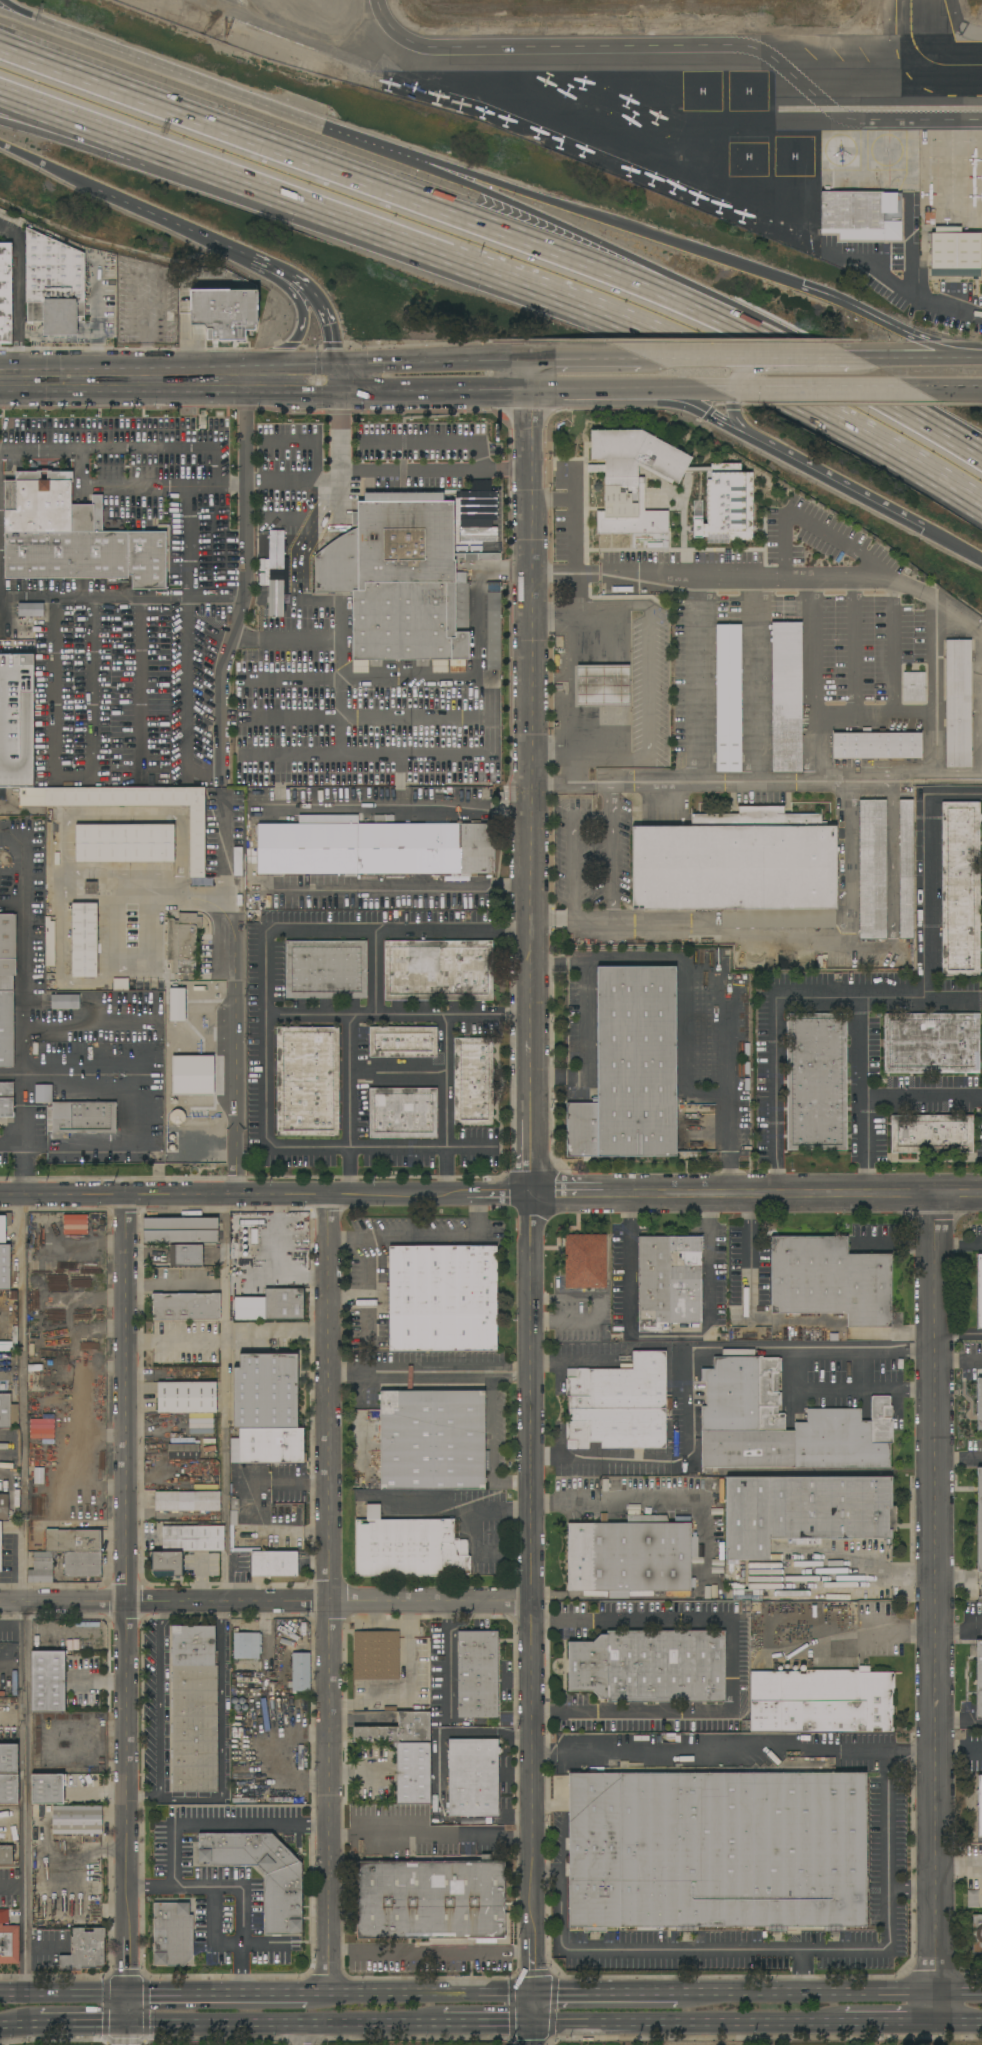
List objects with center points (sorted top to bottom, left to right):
road: (16, 11)
road: (15, 17)
airport taxiway: (910, 32)
road: (680, 48)
airport taxiway: (946, 64)
helipad: (701, 91)
helipad: (748, 91)
road: (228, 95)
road: (65, 112)
airport: (693, 114)
road: (65, 128)
road: (142, 141)
helipad: (839, 149)
helipad: (886, 151)
road: (49, 166)
road: (326, 168)
road: (452, 172)
road: (453, 178)
road: (302, 199)
building: (861, 215)
building: (929, 218)
road: (177, 220)
road: (639, 230)
road: (565, 241)
building: (954, 252)
road: (265, 259)
building: (53, 284)
traffic signals: (801, 285)
road: (289, 287)
building: (5, 293)
road: (932, 295)
parking lot: (99, 297)
building: (218, 302)
parking lot: (142, 303)
road: (324, 303)
road: (20, 305)
road: (854, 307)
road: (194, 325)
road: (95, 328)
road: (148, 333)
road: (295, 340)
road: (932, 345)
road: (970, 357)
road: (747, 358)
road: (903, 358)
road: (588, 359)
road: (432, 362)
road: (723, 362)
road: (304, 365)
traffic signals: (336, 365)
road: (136, 368)
road: (820, 370)
road: (739, 377)
road: (338, 379)
road: (948, 390)
road: (818, 391)
road: (434, 392)
road: (598, 392)
road: (694, 392)
traffic signals: (340, 393)
road: (170, 394)
road: (705, 412)
road: (735, 417)
road: (289, 440)
road: (424, 445)
road: (105, 450)
road: (340, 457)
road: (316, 461)
road: (211, 470)
road: (87, 471)
road: (387, 473)
building: (632, 479)
road: (833, 481)
road: (149, 491)
building: (725, 506)
road: (480, 508)
building: (97, 512)
road: (572, 517)
road: (281, 519)
traffic signals: (924, 529)
building: (73, 536)
road: (302, 540)
road: (191, 544)
road: (953, 544)
road: (282, 553)
road: (506, 573)
road: (551, 574)
building: (401, 578)
road: (246, 592)
road: (122, 600)
building: (30, 610)
road: (551, 616)
road: (958, 618)
road: (257, 620)
road: (342, 624)
road: (480, 626)
building: (493, 631)
building: (20, 636)
building: (23, 647)
road: (933, 662)
road: (812, 677)
road: (569, 679)
road: (694, 679)
road: (414, 680)
road: (293, 681)
building: (602, 685)
road: (141, 688)
building: (913, 688)
building: (786, 697)
building: (728, 698)
road: (341, 699)
road: (186, 701)
building: (957, 703)
road: (873, 717)
road: (366, 718)
road: (487, 719)
building: (16, 720)
building: (876, 745)
road: (551, 749)
road: (365, 758)
road: (954, 772)
road: (73, 779)
road: (552, 785)
road: (590, 785)
building: (32, 796)
road: (402, 808)
building: (197, 841)
building: (125, 843)
building: (374, 847)
road: (63, 850)
road: (607, 853)
building: (237, 862)
building: (741, 868)
building: (906, 868)
building: (872, 869)
road: (928, 870)
road: (82, 875)
building: (90, 888)
building: (960, 888)
road: (342, 890)
road: (158, 897)
road: (568, 921)
road: (148, 931)
road: (800, 933)
building: (84, 940)
building: (49, 942)
building: (182, 942)
building: (7, 952)
road: (556, 957)
road: (692, 968)
road: (21, 969)
building: (325, 969)
building: (438, 970)
road: (374, 972)
building: (120, 984)
road: (880, 999)
road: (232, 1000)
building: (64, 1002)
building: (176, 1004)
road: (263, 1015)
road: (396, 1015)
road: (582, 1019)
building: (7, 1030)
building: (402, 1042)
building: (931, 1043)
building: (630, 1068)
road: (398, 1071)
road: (10, 1075)
building: (192, 1075)
building: (307, 1081)
building: (473, 1081)
building: (816, 1081)
road: (557, 1082)
road: (725, 1086)
building: (42, 1093)
road: (775, 1096)
road: (921, 1096)
road: (861, 1097)
building: (6, 1100)
road: (446, 1104)
road: (349, 1105)
building: (403, 1113)
building: (81, 1118)
building: (931, 1134)
road: (19, 1144)
road: (24, 1153)
road: (491, 1194)
road: (530, 1202)
building: (74, 1225)
building: (180, 1230)
road: (422, 1237)
road: (958, 1246)
road: (897, 1247)
building: (4, 1254)
building: (186, 1256)
building: (585, 1261)
road: (628, 1261)
building: (239, 1273)
building: (829, 1280)
building: (668, 1281)
road: (167, 1284)
building: (979, 1292)
road: (748, 1298)
building: (443, 1299)
road: (708, 1303)
building: (273, 1305)
building: (186, 1306)
road: (597, 1311)
road: (277, 1334)
road: (973, 1339)
road: (172, 1340)
road: (686, 1359)
road: (575, 1362)
road: (958, 1365)
road: (430, 1372)
building: (37, 1378)
road: (850, 1388)
building: (265, 1391)
building: (187, 1398)
road: (223, 1398)
building: (619, 1404)
building: (979, 1404)
building: (7, 1412)
building: (161, 1416)
building: (783, 1424)
building: (10, 1439)
building: (432, 1440)
road: (493, 1442)
building: (271, 1445)
building: (235, 1450)
building: (183, 1451)
road: (959, 1462)
building: (836, 1472)
building: (39, 1476)
road: (303, 1482)
building: (187, 1501)
road: (449, 1503)
road: (617, 1504)
building: (4, 1507)
building: (804, 1511)
building: (979, 1520)
building: (193, 1539)
building: (73, 1540)
building: (0, 1547)
building: (409, 1548)
building: (629, 1555)
road: (865, 1560)
building: (274, 1563)
building: (82, 1564)
building: (167, 1564)
building: (41, 1568)
building: (720, 1581)
building: (701, 1587)
building: (706, 1588)
road: (936, 1593)
road: (331, 1595)
road: (24, 1596)
road: (265, 1602)
road: (124, 1609)
road: (959, 1619)
road: (877, 1632)
building: (246, 1645)
building: (376, 1655)
road: (446, 1657)
building: (650, 1666)
road: (732, 1667)
building: (300, 1672)
building: (477, 1674)
building: (978, 1680)
building: (48, 1681)
road: (159, 1700)
building: (821, 1700)
building: (194, 1709)
building: (274, 1712)
road: (360, 1723)
building: (397, 1730)
road: (221, 1746)
road: (959, 1749)
road: (542, 1751)
road: (646, 1751)
road: (838, 1751)
building: (8, 1758)
building: (246, 1765)
building: (412, 1773)
building: (473, 1777)
building: (433, 1779)
building: (9, 1789)
building: (46, 1789)
building: (247, 1793)
building: (980, 1806)
building: (76, 1821)
road: (3, 1825)
road: (429, 1833)
parking lot: (192, 1842)
building: (721, 1851)
building: (5, 1852)
road: (174, 1864)
road: (959, 1869)
road: (13, 1887)
building: (971, 1899)
building: (433, 1902)
building: (283, 1905)
building: (73, 1920)
parking lot: (233, 1922)
building: (172, 1934)
building: (976, 1934)
building: (8, 1941)
building: (84, 1950)
road: (775, 1950)
road: (430, 1951)
road: (960, 1993)
road: (808, 1994)
traffic signals: (535, 1995)
road: (606, 1995)
road: (63, 1996)
traffic signals: (126, 1996)
road: (216, 1996)
road: (421, 1996)
road: (939, 2008)
road: (284, 2023)
road: (489, 2023)
road: (819, 2023)
road: (961, 2023)
road: (83, 2024)
traffic signals: (126, 2024)
traffic signals: (535, 2024)
road: (617, 2024)
road: (20, 2025)
road: (125, 2034)
road: (303, 2034)

